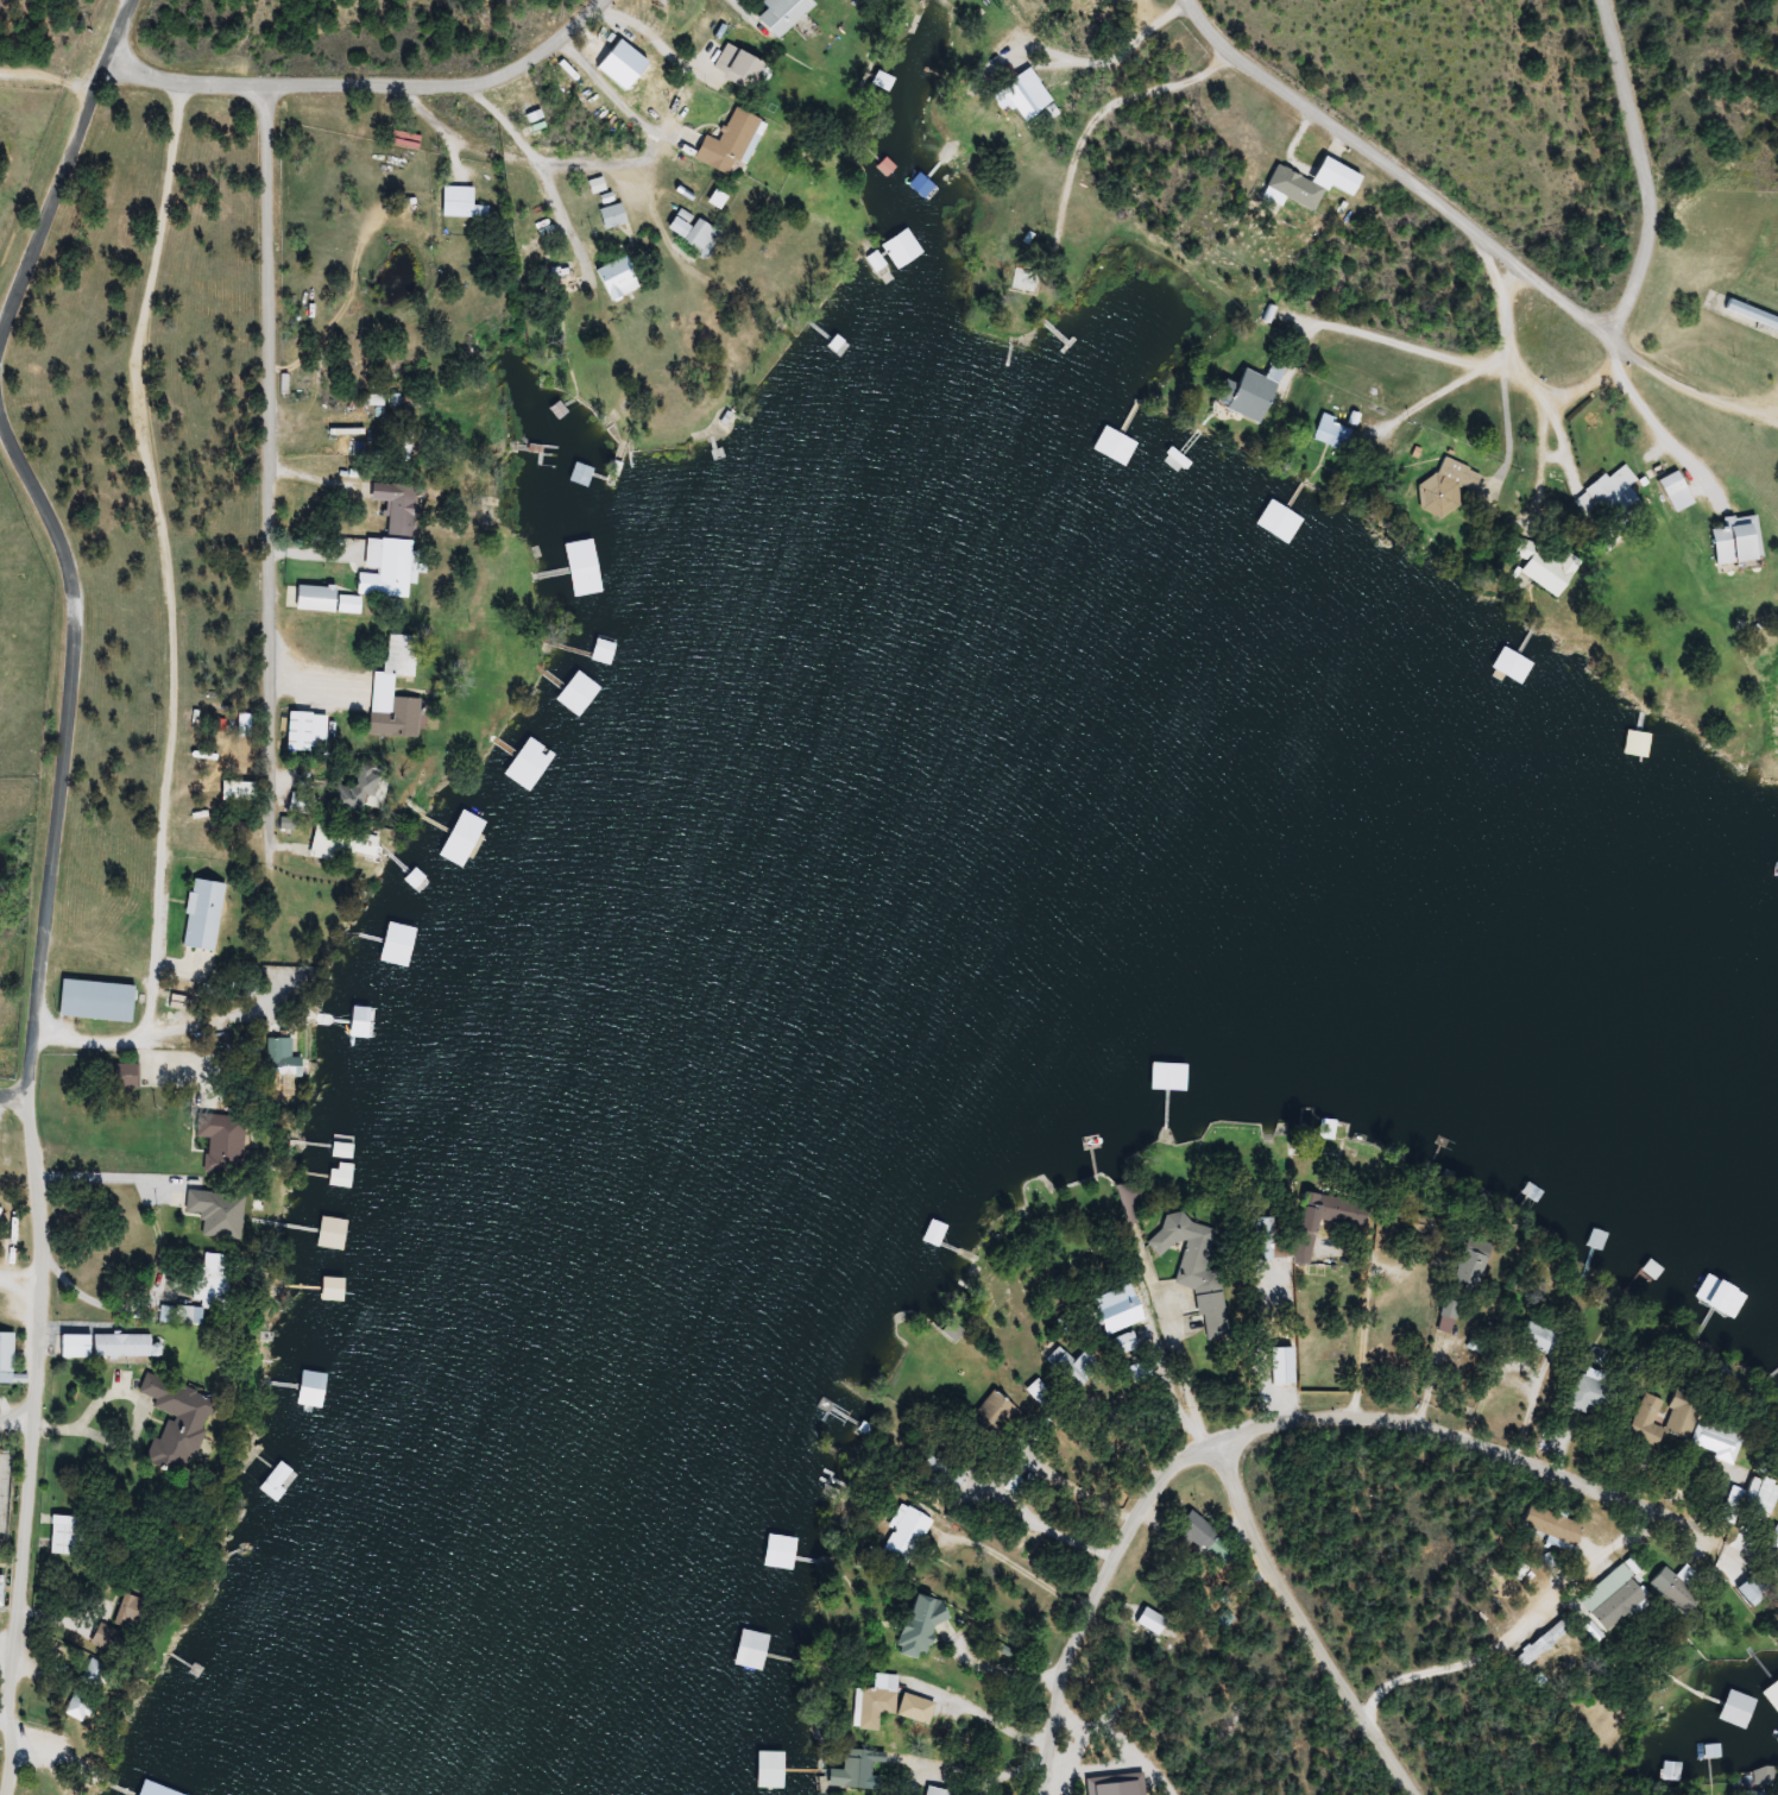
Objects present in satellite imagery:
building: (1111, 0)
building: (1129, 0)
building: (667, 1)
building: (787, 14)
road: (120, 30)
building: (743, 67)
road: (378, 75)
building: (1029, 95)
building: (731, 143)
road: (1634, 162)
building: (1299, 188)
building: (464, 203)
building: (616, 216)
building: (694, 229)
road: (1464, 233)
building: (904, 248)
building: (534, 253)
building: (562, 277)
building: (622, 278)
road: (1272, 300)
road: (588, 308)
building: (1753, 313)
building: (1065, 342)
building: (1255, 397)
road: (1493, 405)
building: (1336, 433)
road: (12, 462)
building: (592, 475)
building: (1450, 487)
building: (1679, 492)
building: (1612, 497)
building: (401, 506)
building: (1285, 508)
road: (263, 528)
building: (1740, 542)
building: (390, 568)
building: (1549, 568)
road: (53, 577)
building: (328, 600)
building: (611, 644)
road: (1665, 663)
building: (389, 686)
building: (311, 731)
building: (1640, 742)
building: (364, 794)
building: (303, 801)
river: (781, 801)
building: (467, 840)
building: (297, 939)
building: (100, 1000)
building: (358, 1024)
building: (288, 1059)
building: (168, 1070)
road: (18, 1117)
building: (1330, 1128)
building: (226, 1142)
road: (33, 1180)
building: (217, 1213)
building: (938, 1234)
road: (15, 1242)
building: (1080, 1255)
building: (1477, 1261)
building: (1197, 1272)
building: (1663, 1277)
building: (216, 1278)
building: (1729, 1306)
building: (181, 1315)
building: (952, 1330)
building: (1543, 1339)
building: (1126, 1343)
building: (111, 1347)
building: (7, 1358)
building: (316, 1390)
building: (1594, 1391)
building: (1039, 1394)
building: (188, 1417)
building: (1689, 1418)
road: (13, 1429)
building: (1723, 1442)
road: (1473, 1485)
road: (23, 1511)
building: (1555, 1525)
building: (907, 1533)
building: (65, 1535)
building: (1208, 1539)
building: (1774, 1542)
building: (786, 1552)
building: (1758, 1588)
building: (1683, 1592)
building: (2, 1593)
road: (1095, 1599)
road: (1451, 1608)
building: (138, 1612)
building: (1152, 1621)
building: (922, 1630)
building: (113, 1638)
road: (1320, 1642)
building: (1546, 1642)
road: (1465, 1671)
building: (101, 1674)
building: (1774, 1692)
road: (8, 1696)
building: (878, 1699)
building: (84, 1706)
building: (1696, 1727)
building: (1714, 1752)
building: (856, 1771)
building: (1671, 1772)
building: (1765, 1777)
building: (937, 1791)
building: (168, 1793)

